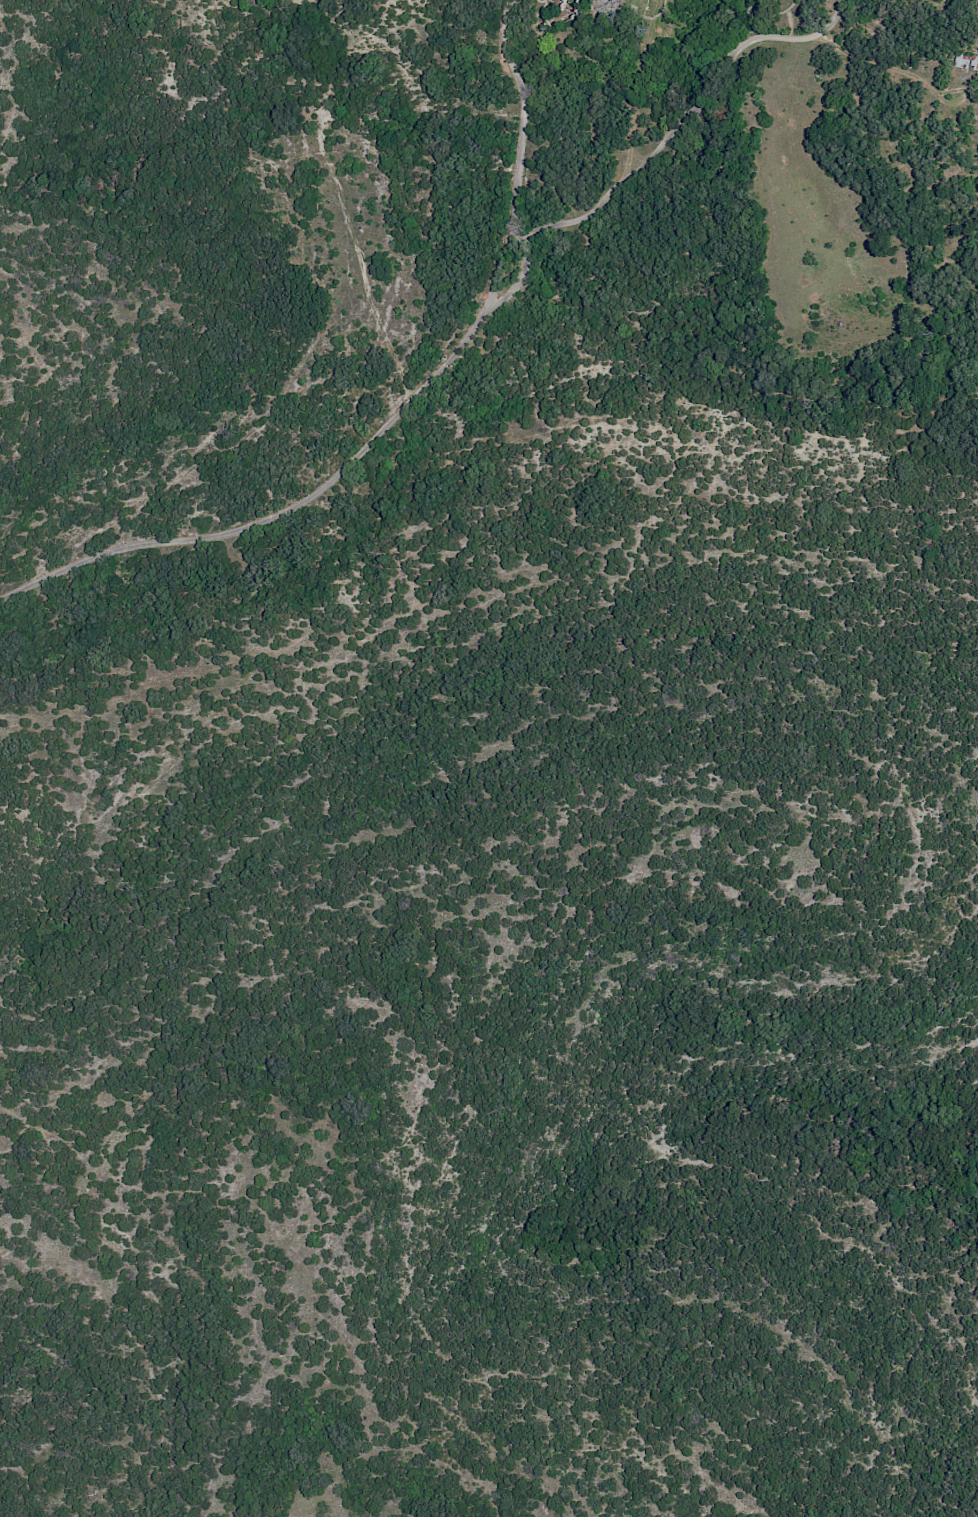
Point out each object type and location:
building: (966, 61)
road: (658, 146)
road: (399, 412)

